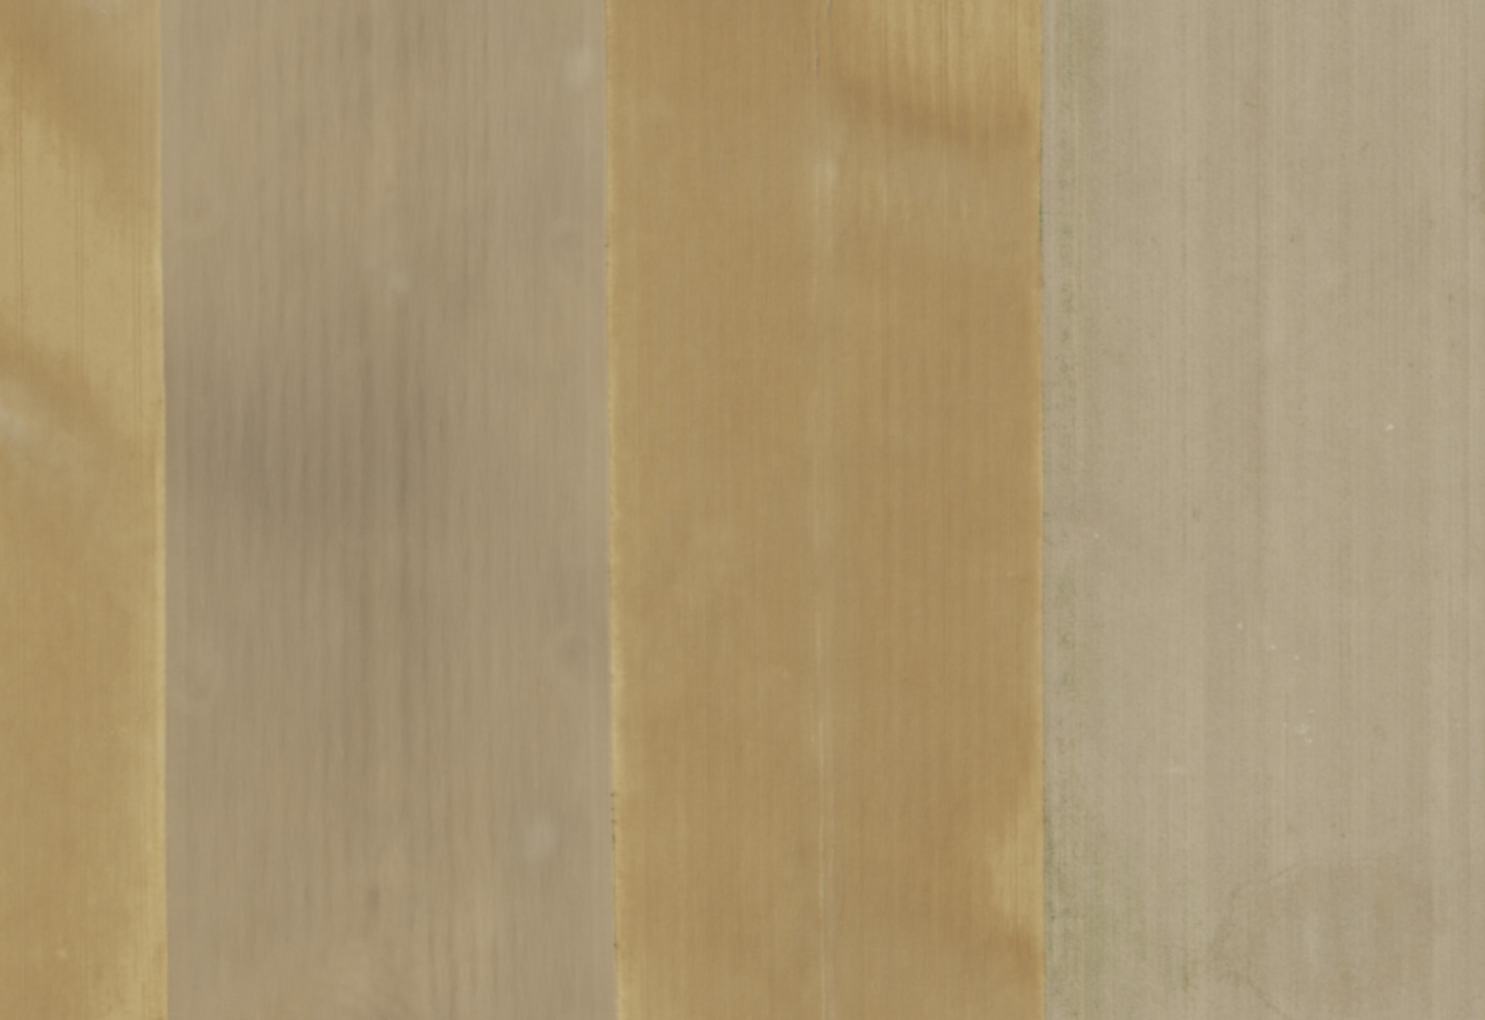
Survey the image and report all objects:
crop: (742, 510)

